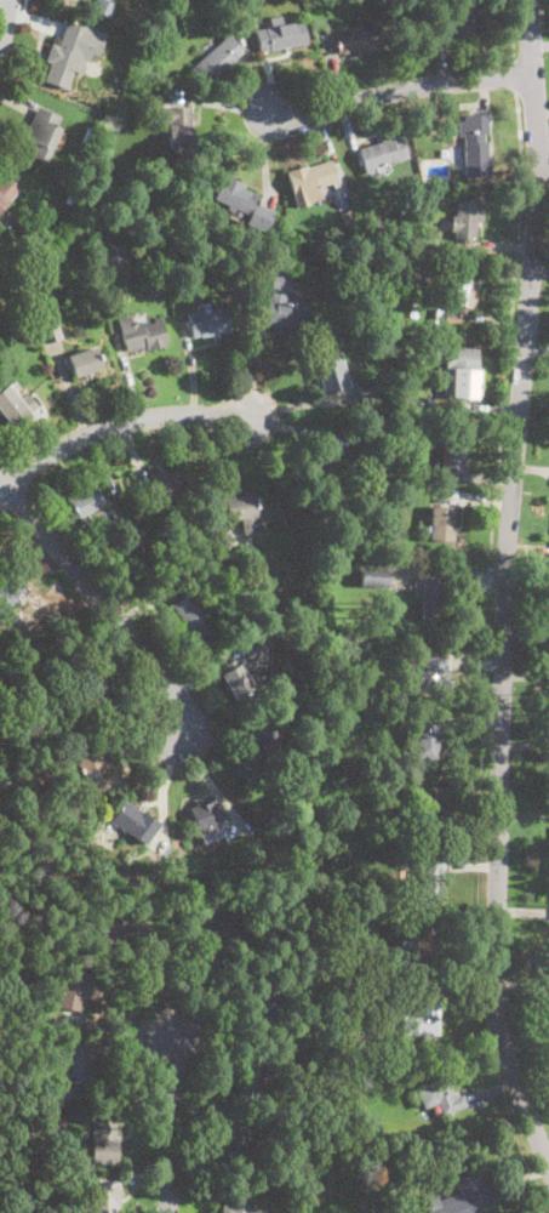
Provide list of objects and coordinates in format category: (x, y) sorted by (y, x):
road: (24, 5)
building: (103, 7)
building: (461, 18)
road: (5, 22)
road: (513, 30)
building: (285, 35)
building: (359, 39)
building: (70, 51)
building: (216, 58)
road: (516, 76)
road: (401, 87)
building: (88, 121)
building: (178, 126)
building: (41, 133)
building: (90, 133)
building: (474, 148)
building: (383, 153)
building: (310, 182)
building: (4, 190)
building: (236, 197)
building: (70, 198)
building: (348, 217)
building: (467, 217)
building: (5, 255)
building: (114, 255)
building: (93, 279)
building: (284, 303)
building: (458, 303)
building: (413, 312)
building: (212, 320)
building: (48, 330)
building: (143, 335)
building: (23, 337)
building: (416, 337)
road: (510, 338)
building: (408, 357)
building: (82, 361)
building: (457, 369)
building: (331, 370)
building: (368, 391)
building: (15, 406)
road: (119, 423)
building: (334, 446)
building: (452, 452)
road: (5, 456)
building: (327, 463)
road: (5, 465)
building: (165, 484)
building: (84, 501)
building: (240, 507)
building: (440, 524)
building: (97, 531)
building: (125, 542)
building: (222, 545)
building: (132, 575)
building: (373, 575)
building: (13, 582)
road: (507, 585)
building: (211, 586)
building: (434, 597)
road: (102, 602)
building: (184, 608)
building: (230, 616)
building: (276, 623)
building: (55, 628)
building: (85, 659)
building: (235, 671)
building: (429, 674)
building: (95, 697)
building: (430, 710)
building: (274, 734)
building: (428, 736)
building: (253, 763)
building: (95, 770)
building: (29, 774)
building: (428, 811)
building: (207, 815)
building: (136, 822)
building: (15, 845)
building: (395, 855)
building: (150, 875)
building: (431, 878)
building: (218, 924)
building: (119, 929)
building: (421, 946)
building: (461, 973)
building: (13, 976)
building: (73, 986)
building: (4, 1001)
building: (261, 1008)
building: (422, 1019)
building: (278, 1055)
building: (78, 1070)
building: (251, 1076)
building: (441, 1094)
road: (171, 1121)
building: (4, 1138)
building: (104, 1138)
building: (238, 1141)
building: (387, 1180)
building: (476, 1190)
building: (105, 1197)
building: (240, 1200)
building: (376, 1203)

